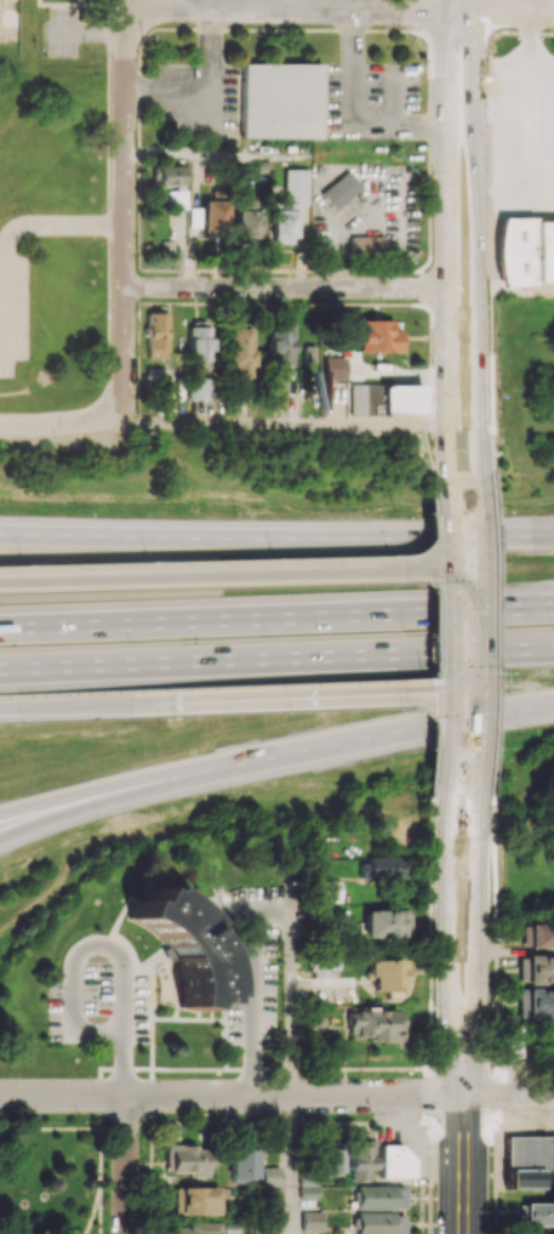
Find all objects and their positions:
road: (132, 2)
road: (343, 7)
road: (461, 15)
road: (531, 27)
parking lot: (373, 102)
building: (279, 103)
road: (352, 115)
road: (515, 121)
road: (429, 144)
building: (172, 184)
building: (339, 189)
building: (286, 205)
road: (126, 212)
building: (206, 216)
building: (244, 221)
road: (12, 233)
building: (366, 245)
road: (447, 248)
road: (476, 250)
building: (526, 251)
road: (286, 288)
building: (156, 335)
building: (376, 336)
building: (199, 341)
building: (279, 346)
building: (239, 349)
building: (307, 353)
building: (331, 368)
building: (158, 379)
building: (276, 382)
building: (198, 388)
building: (359, 399)
building: (399, 399)
road: (62, 421)
road: (286, 423)
street lamp: (80, 507)
street lamp: (400, 510)
street lamp: (240, 511)
road: (21, 533)
road: (21, 534)
road: (297, 535)
traffic signals: (450, 545)
traffic signals: (464, 576)
road: (242, 580)
road: (276, 615)
street lamp: (550, 625)
road: (450, 632)
road: (479, 633)
road: (276, 659)
traffic signals: (451, 671)
traffic signals: (427, 694)
road: (314, 696)
road: (74, 705)
traffic signals: (480, 712)
street lamp: (22, 723)
street lamp: (521, 734)
road: (356, 737)
street lamp: (378, 763)
street lamp: (233, 792)
road: (81, 797)
road: (80, 807)
street lamp: (98, 826)
park: (527, 841)
building: (385, 868)
building: (329, 891)
building: (385, 923)
road: (476, 933)
building: (537, 934)
road: (449, 936)
building: (179, 945)
building: (536, 968)
building: (388, 976)
road: (291, 978)
building: (536, 1002)
road: (250, 1003)
building: (314, 1019)
building: (375, 1023)
road: (124, 1028)
building: (512, 1039)
traffic signals: (464, 1071)
road: (232, 1096)
road: (509, 1096)
road: (101, 1111)
road: (50, 1128)
road: (114, 1128)
road: (101, 1148)
road: (464, 1153)
building: (187, 1159)
building: (331, 1160)
building: (359, 1160)
building: (526, 1160)
building: (395, 1161)
road: (126, 1165)
building: (242, 1165)
road: (291, 1165)
building: (270, 1176)
park: (50, 1181)
building: (308, 1188)
building: (375, 1196)
building: (195, 1200)
road: (96, 1201)
road: (101, 1201)
building: (274, 1202)
building: (533, 1213)
building: (310, 1221)
building: (378, 1222)
building: (196, 1228)

